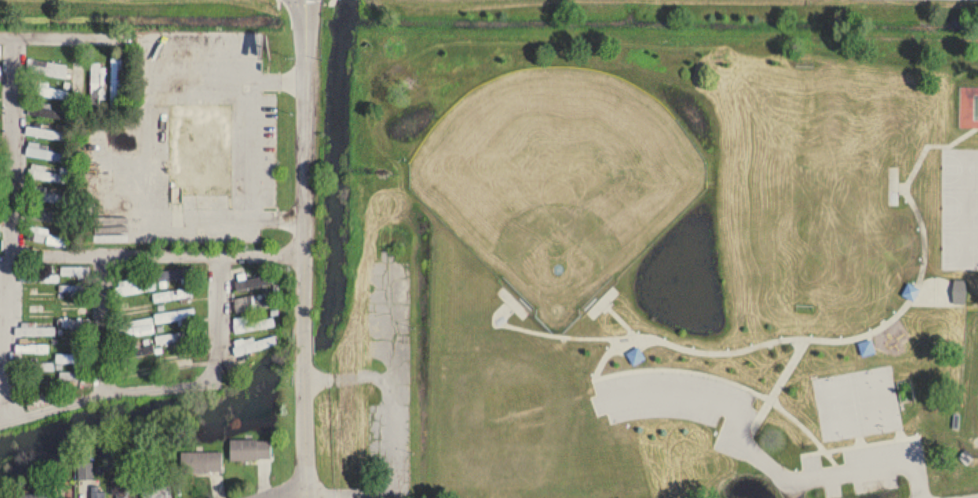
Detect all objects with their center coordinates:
road: (156, 42)
road: (305, 42)
building: (0, 52)
building: (48, 70)
building: (0, 77)
building: (79, 81)
building: (97, 84)
building: (115, 84)
building: (46, 91)
park: (968, 104)
building: (46, 111)
building: (0, 122)
building: (45, 134)
building: (197, 152)
building: (46, 154)
building: (0, 158)
park: (960, 166)
road: (306, 172)
building: (45, 174)
road: (246, 175)
river: (337, 176)
building: (44, 197)
park: (959, 206)
road: (10, 230)
building: (46, 238)
park: (959, 246)
park: (641, 249)
road: (158, 257)
building: (75, 273)
building: (175, 275)
building: (37, 279)
building: (254, 282)
building: (134, 288)
building: (74, 290)
building: (958, 292)
building: (174, 296)
building: (33, 297)
building: (255, 303)
building: (74, 307)
building: (135, 310)
building: (31, 314)
road: (619, 315)
building: (177, 318)
building: (74, 324)
building: (253, 325)
road: (104, 327)
building: (133, 329)
road: (544, 330)
building: (33, 331)
building: (175, 340)
road: (679, 342)
building: (254, 346)
building: (31, 350)
building: (129, 350)
river: (304, 350)
building: (72, 360)
building: (178, 360)
building: (36, 367)
building: (134, 374)
road: (304, 375)
road: (346, 376)
building: (76, 377)
road: (776, 381)
building: (40, 386)
road: (169, 388)
road: (679, 389)
parking lot: (673, 393)
building: (42, 402)
river: (156, 410)
road: (388, 416)
building: (250, 450)
road: (759, 456)
parking lot: (867, 462)
building: (200, 463)
building: (85, 471)
road: (850, 471)
building: (127, 487)
building: (154, 487)
road: (290, 494)
road: (306, 494)
building: (45, 497)

